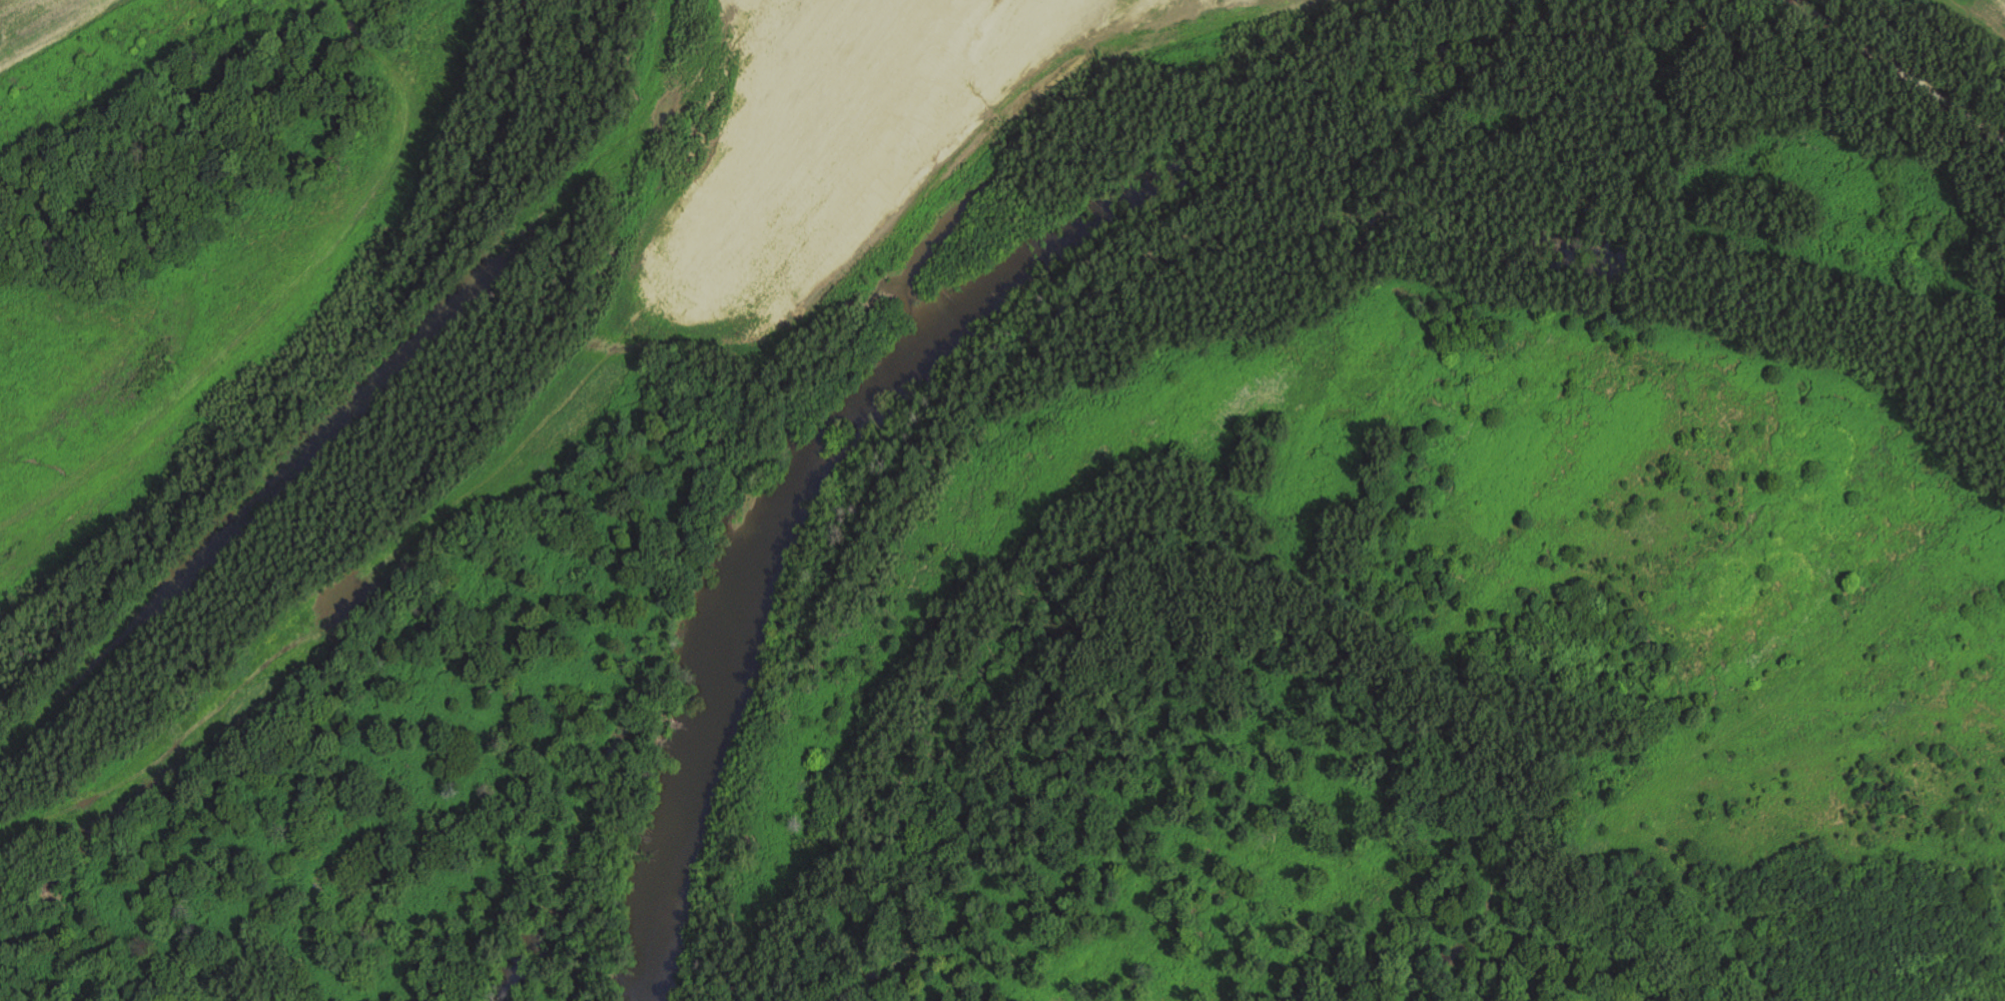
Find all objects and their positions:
road: (1896, 71)

